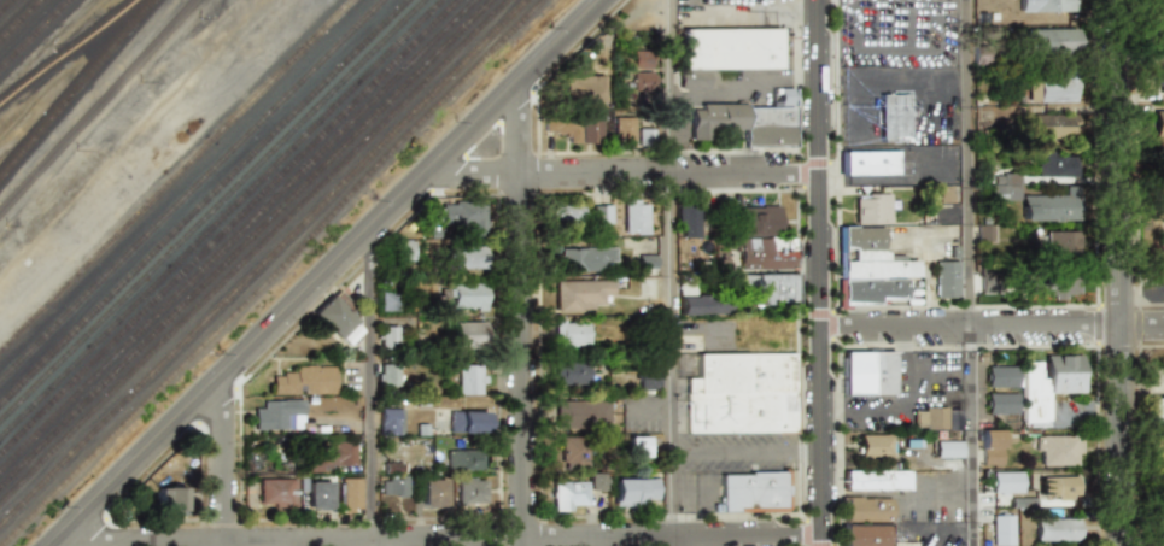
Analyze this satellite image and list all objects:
railway: (6, 6)
building: (1048, 6)
road: (751, 8)
building: (1159, 8)
railway: (23, 23)
railway: (35, 35)
building: (1053, 40)
building: (1158, 40)
railway: (69, 52)
building: (724, 52)
building: (642, 72)
road: (735, 80)
building: (1159, 80)
railway: (77, 89)
building: (583, 89)
building: (1052, 89)
building: (894, 117)
building: (745, 123)
building: (1158, 123)
building: (1054, 125)
building: (562, 127)
building: (624, 127)
building: (589, 128)
building: (644, 135)
building: (868, 163)
building: (1059, 164)
road: (620, 172)
railway: (177, 176)
building: (1005, 187)
railway: (192, 189)
railway: (204, 202)
building: (1048, 209)
railway: (212, 210)
building: (568, 213)
building: (602, 213)
building: (462, 215)
building: (634, 216)
railway: (221, 218)
building: (688, 221)
railway: (229, 227)
building: (984, 234)
railway: (238, 235)
building: (761, 237)
building: (1060, 242)
railway: (246, 243)
building: (404, 249)
railway: (255, 251)
building: (871, 256)
building: (467, 257)
building: (581, 258)
building: (1160, 262)
building: (647, 263)
railway: (264, 264)
road: (321, 272)
road: (671, 272)
road: (817, 272)
road: (969, 272)
road: (1119, 272)
railway: (276, 275)
building: (946, 278)
building: (1054, 284)
building: (772, 289)
building: (580, 294)
road: (1142, 295)
building: (467, 297)
building: (387, 300)
building: (703, 304)
road: (520, 312)
building: (337, 316)
road: (990, 327)
building: (571, 333)
building: (466, 334)
building: (387, 336)
building: (867, 371)
building: (572, 372)
building: (387, 374)
building: (1001, 376)
building: (470, 378)
building: (304, 380)
building: (647, 380)
building: (1048, 382)
road: (370, 384)
road: (905, 389)
building: (743, 392)
building: (1001, 403)
building: (1156, 409)
building: (581, 413)
building: (277, 415)
building: (930, 417)
building: (391, 421)
building: (468, 421)
building: (873, 445)
building: (638, 446)
building: (1159, 446)
building: (992, 447)
building: (948, 448)
building: (573, 450)
building: (1059, 450)
road: (731, 451)
building: (333, 456)
building: (464, 459)
road: (222, 463)
building: (876, 480)
building: (593, 481)
building: (1005, 482)
building: (1060, 486)
building: (396, 487)
building: (1159, 488)
building: (470, 491)
building: (631, 491)
building: (754, 491)
building: (276, 492)
building: (317, 493)
building: (433, 493)
building: (351, 494)
building: (568, 495)
building: (171, 499)
building: (866, 510)
building: (1057, 529)
building: (1162, 530)
building: (864, 534)
road: (441, 539)
road: (76, 541)
road: (703, 541)

